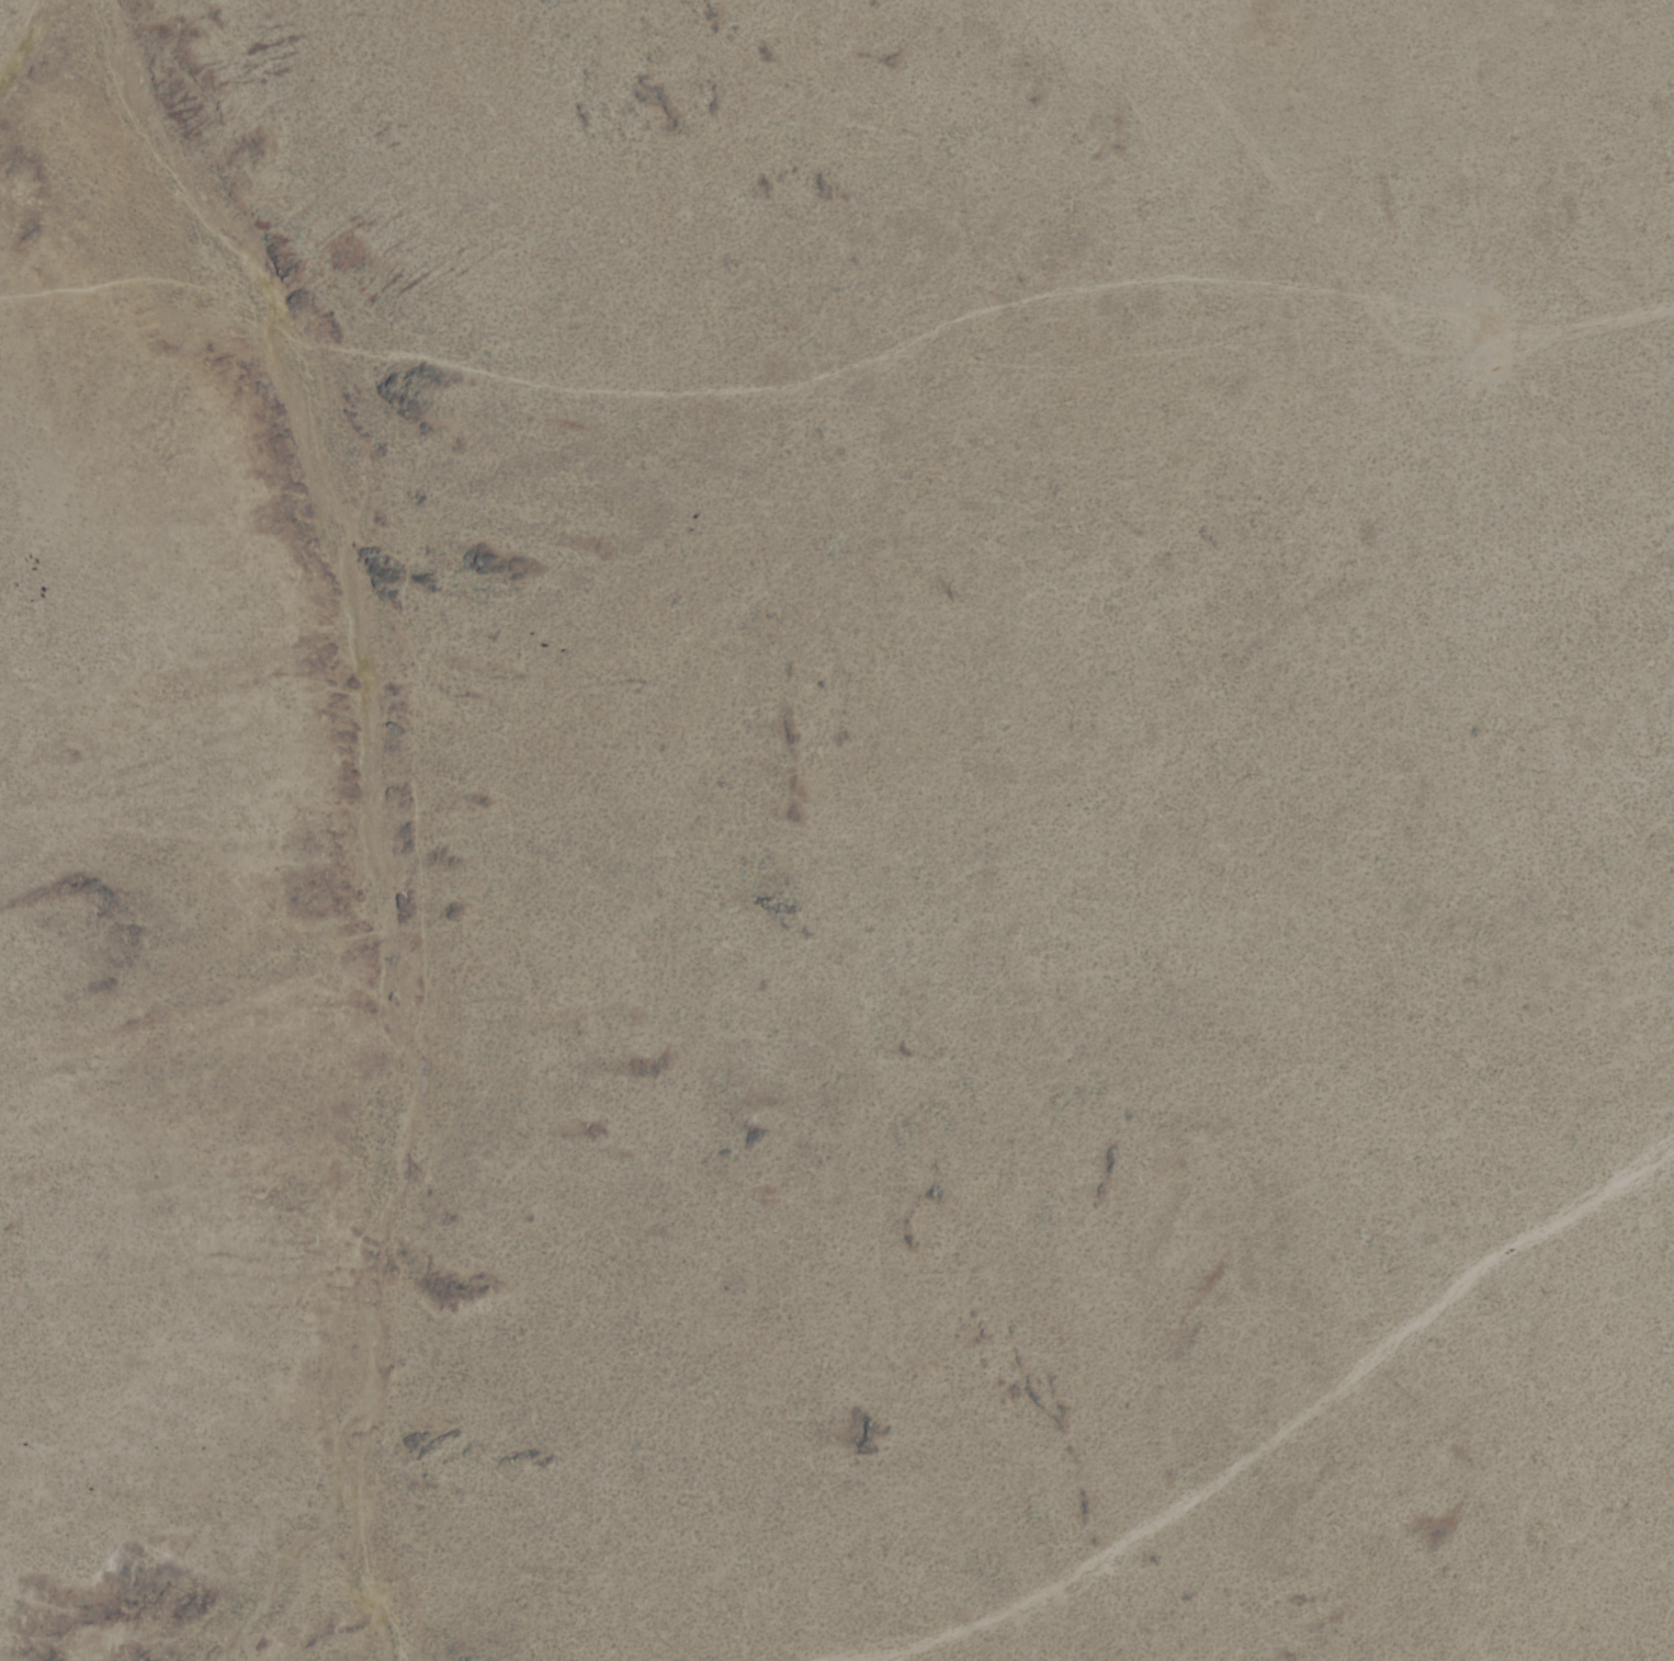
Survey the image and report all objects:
road: (1353, 286)

